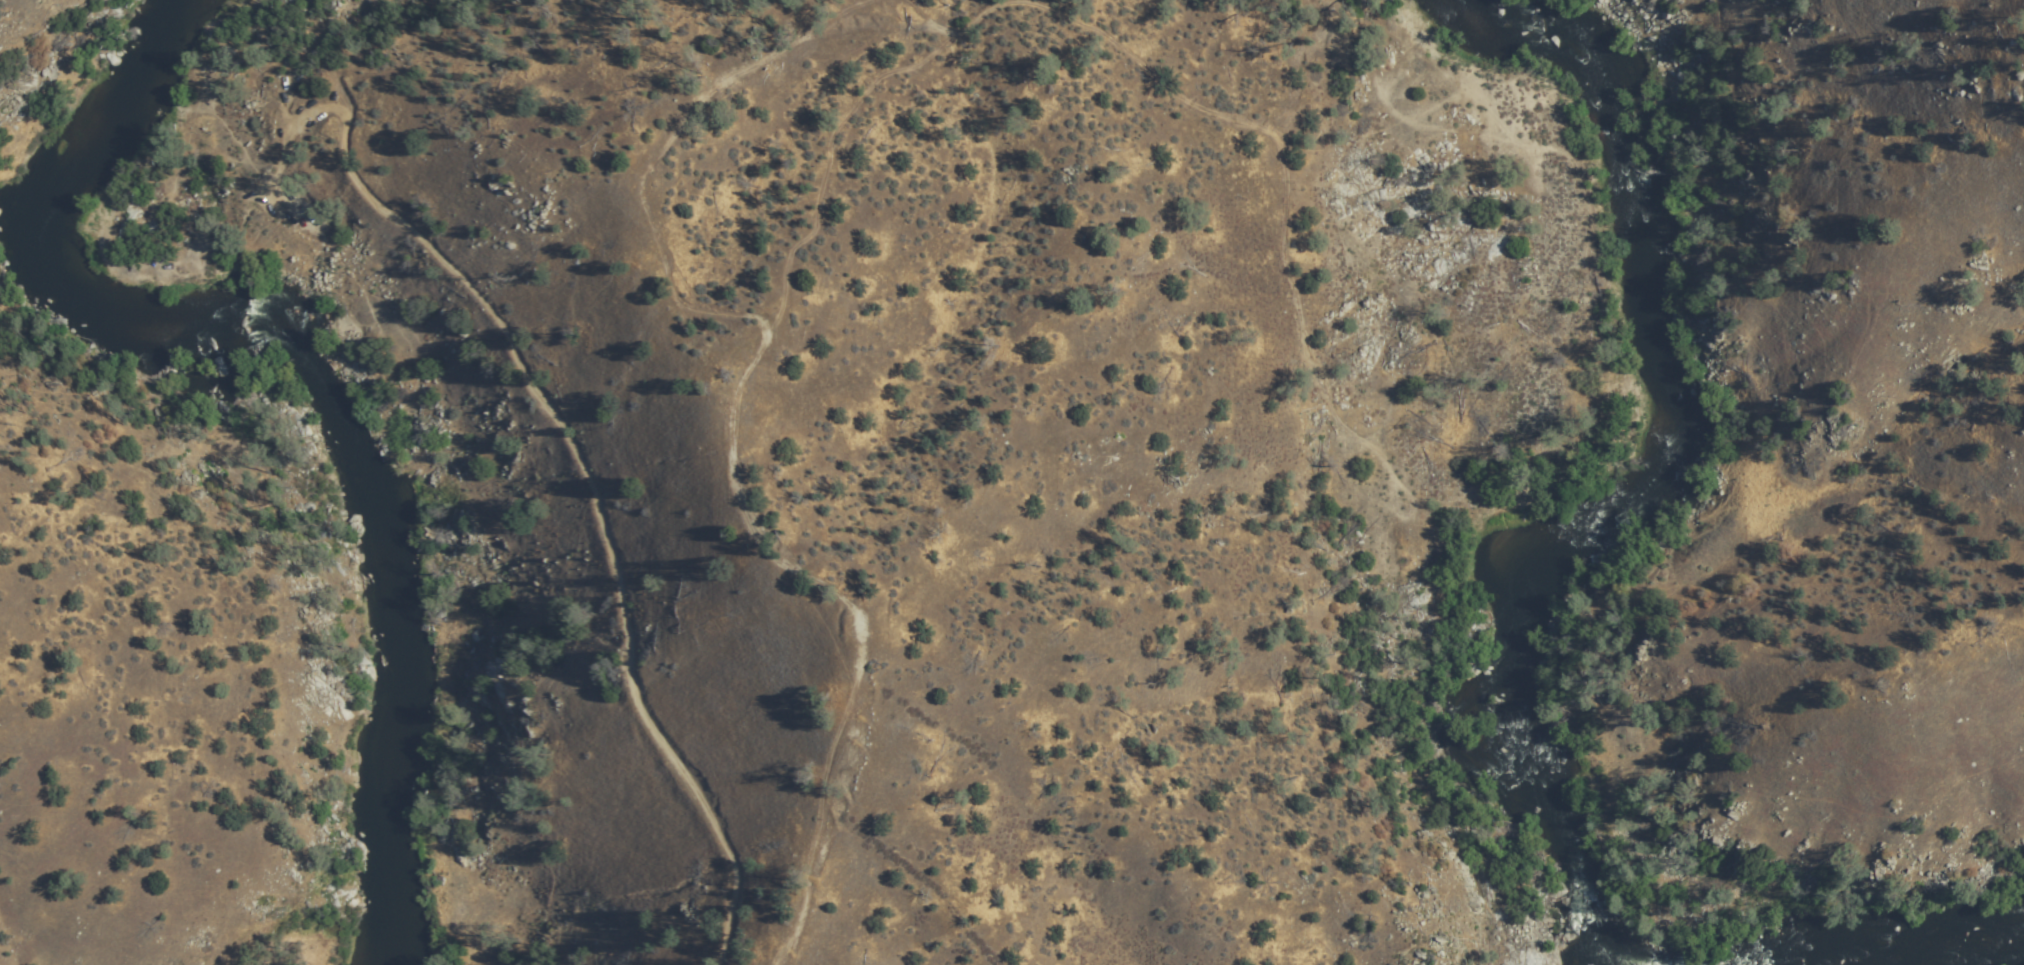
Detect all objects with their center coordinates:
road: (721, 153)
river: (314, 384)
road: (577, 395)
river: (1631, 457)
river: (1987, 958)

